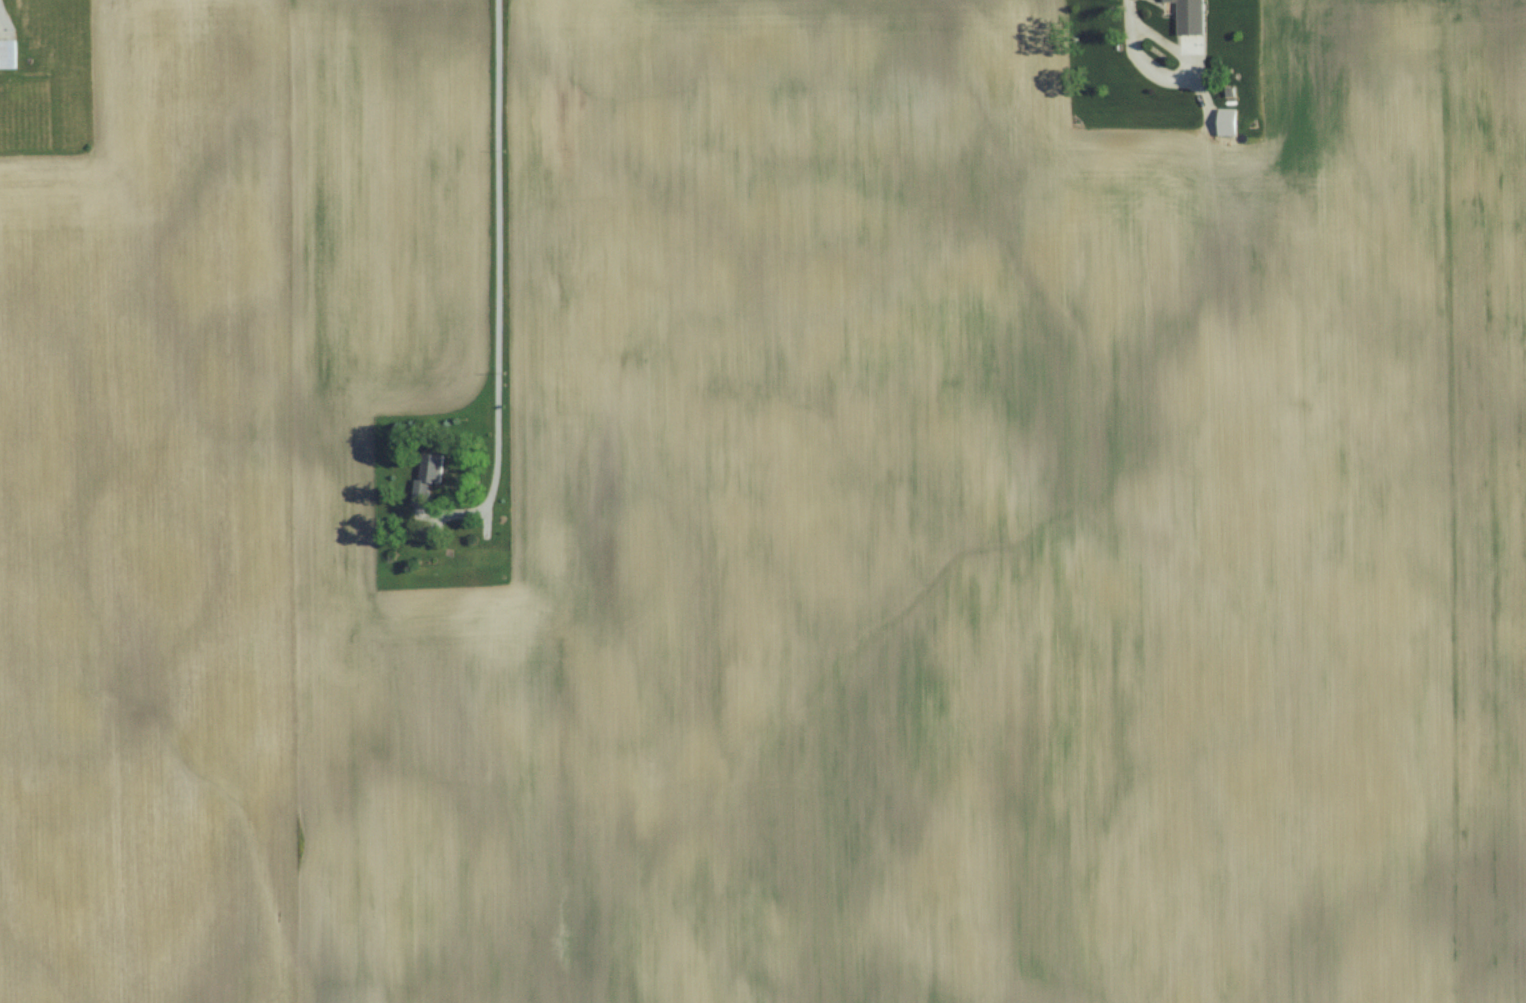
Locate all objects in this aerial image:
building: (1186, 0)
road: (1131, 9)
building: (8, 55)
road: (1187, 67)
road: (497, 241)
building: (432, 472)

